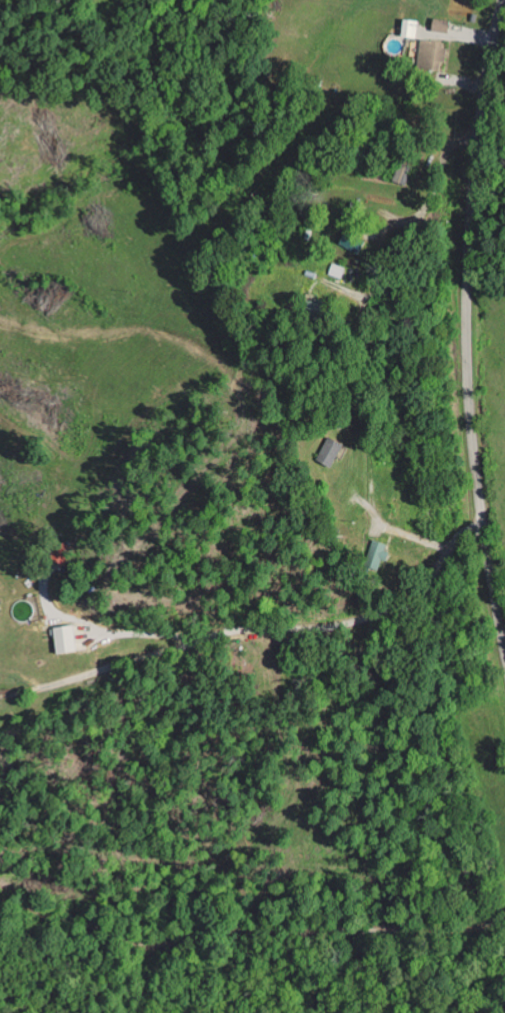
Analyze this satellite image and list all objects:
building: (440, 25)
building: (409, 28)
building: (431, 55)
building: (348, 241)
road: (465, 332)
building: (324, 451)
building: (373, 554)
building: (58, 557)
road: (263, 603)
building: (63, 639)
road: (257, 767)

